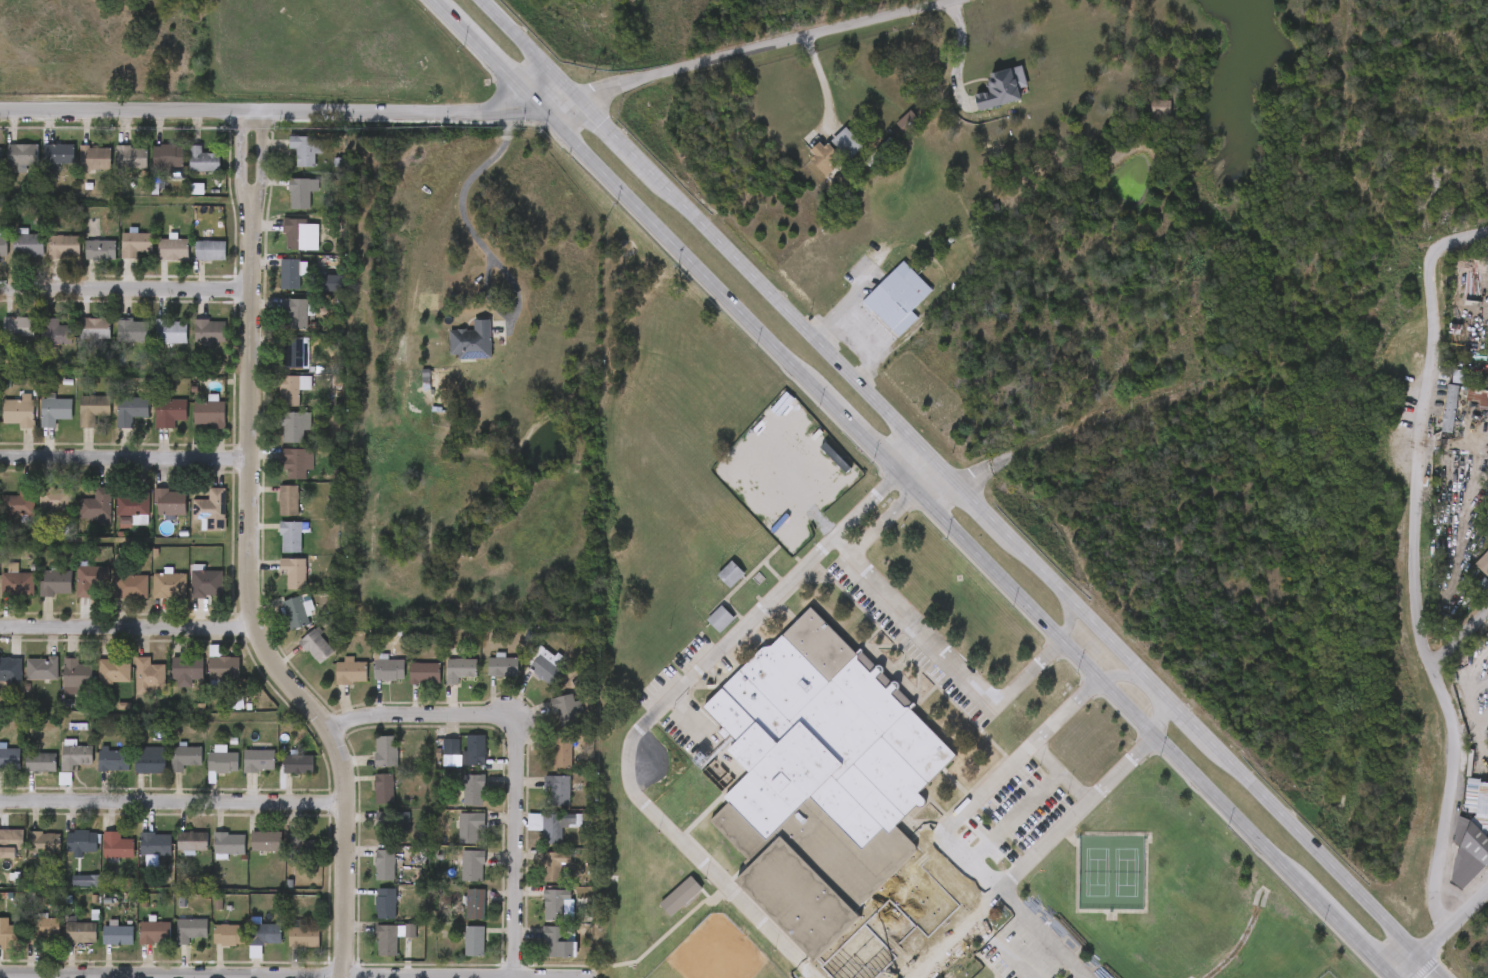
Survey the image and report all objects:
road: (747, 52)
road: (958, 52)
road: (824, 79)
building: (1000, 86)
road: (270, 112)
building: (906, 119)
building: (847, 142)
building: (306, 148)
building: (22, 153)
building: (59, 153)
building: (169, 155)
building: (0, 156)
building: (132, 156)
building: (95, 157)
building: (825, 157)
building: (203, 159)
building: (288, 163)
building: (42, 167)
building: (10, 168)
building: (151, 169)
building: (115, 171)
building: (78, 172)
building: (186, 173)
building: (301, 192)
building: (284, 206)
building: (301, 233)
building: (135, 243)
road: (1458, 243)
building: (3, 244)
building: (28, 244)
road: (484, 245)
building: (64, 246)
building: (101, 248)
building: (174, 248)
building: (283, 248)
building: (211, 250)
building: (118, 258)
building: (47, 260)
building: (84, 263)
building: (157, 263)
building: (193, 264)
building: (291, 273)
road: (122, 286)
building: (273, 287)
building: (314, 296)
building: (896, 297)
road: (850, 302)
building: (296, 313)
building: (278, 326)
building: (18, 327)
building: (95, 329)
building: (132, 331)
building: (172, 331)
building: (210, 331)
building: (55, 332)
building: (472, 338)
building: (8, 340)
building: (78, 341)
road: (879, 342)
building: (115, 344)
building: (193, 344)
building: (154, 345)
building: (38, 346)
building: (296, 353)
building: (455, 355)
building: (279, 366)
building: (1458, 377)
building: (293, 388)
building: (276, 402)
building: (1448, 408)
building: (93, 409)
building: (131, 409)
building: (18, 411)
building: (55, 411)
building: (170, 413)
building: (209, 414)
building: (76, 422)
building: (9, 424)
building: (114, 424)
building: (38, 425)
building: (153, 426)
building: (194, 426)
building: (294, 426)
road: (1068, 431)
building: (279, 441)
road: (120, 460)
building: (294, 461)
building: (280, 476)
road: (962, 489)
road: (915, 490)
building: (55, 499)
building: (289, 499)
building: (170, 502)
building: (19, 503)
building: (134, 504)
building: (96, 506)
building: (211, 509)
building: (272, 513)
building: (8, 514)
building: (38, 514)
building: (79, 520)
building: (116, 524)
building: (194, 524)
building: (291, 536)
building: (274, 550)
road: (240, 559)
building: (1482, 563)
building: (293, 572)
building: (730, 572)
building: (89, 581)
building: (56, 582)
building: (17, 583)
building: (207, 583)
building: (169, 585)
building: (131, 586)
building: (278, 586)
building: (74, 593)
building: (39, 596)
building: (189, 596)
building: (8, 597)
building: (152, 599)
building: (114, 600)
road: (1419, 600)
building: (295, 613)
building: (719, 616)
road: (1068, 621)
building: (279, 626)
road: (125, 628)
road: (923, 632)
road: (1460, 642)
building: (316, 646)
building: (299, 659)
building: (502, 666)
building: (42, 668)
building: (188, 668)
building: (224, 668)
building: (459, 668)
building: (547, 668)
building: (10, 669)
building: (389, 669)
building: (114, 670)
building: (350, 671)
building: (77, 672)
building: (425, 673)
building: (149, 676)
road: (1125, 677)
building: (205, 678)
building: (527, 678)
building: (486, 679)
building: (371, 681)
building: (25, 682)
building: (2, 683)
building: (443, 683)
building: (97, 684)
building: (171, 684)
building: (334, 684)
building: (60, 686)
building: (408, 686)
building: (132, 689)
building: (566, 709)
road: (1065, 709)
road: (652, 714)
road: (1162, 717)
building: (549, 724)
road: (1472, 725)
building: (450, 747)
building: (476, 749)
building: (385, 750)
building: (562, 751)
road: (514, 753)
building: (77, 757)
building: (185, 757)
building: (9, 758)
building: (114, 759)
building: (259, 760)
building: (434, 760)
building: (40, 761)
building: (149, 761)
building: (223, 762)
building: (298, 764)
building: (369, 764)
building: (458, 764)
building: (544, 766)
road: (1121, 766)
building: (59, 768)
road: (1060, 770)
building: (168, 771)
building: (2, 772)
building: (96, 773)
building: (205, 774)
building: (242, 774)
building: (24, 775)
building: (133, 777)
building: (282, 777)
building: (820, 781)
building: (383, 788)
building: (471, 789)
building: (556, 790)
building: (366, 801)
road: (169, 802)
building: (456, 803)
building: (540, 804)
road: (963, 805)
building: (1481, 815)
building: (389, 823)
building: (469, 826)
building: (555, 826)
road: (1001, 830)
building: (376, 834)
building: (517, 835)
building: (453, 840)
building: (81, 841)
building: (192, 841)
building: (266, 841)
building: (44, 842)
building: (11, 843)
building: (229, 843)
building: (155, 844)
building: (117, 846)
building: (303, 848)
building: (175, 854)
building: (249, 854)
building: (28, 855)
building: (65, 856)
building: (138, 857)
building: (212, 857)
building: (101, 859)
road: (1029, 859)
building: (284, 860)
building: (384, 865)
building: (472, 865)
building: (553, 867)
building: (367, 878)
building: (537, 878)
building: (455, 879)
building: (68, 894)
building: (385, 903)
building: (474, 904)
building: (553, 904)
road: (956, 905)
building: (664, 909)
building: (369, 916)
building: (458, 917)
building: (538, 917)
building: (42, 929)
building: (190, 929)
building: (154, 931)
building: (80, 932)
building: (10, 933)
road: (1045, 933)
building: (229, 934)
building: (265, 934)
road: (899, 934)
building: (117, 935)
road: (1445, 935)
building: (304, 937)
building: (386, 940)
building: (473, 941)
building: (557, 942)
building: (27, 943)
building: (174, 943)
building: (64, 945)
building: (138, 945)
building: (248, 946)
building: (101, 947)
building: (211, 948)
road: (941, 949)
road: (999, 949)
building: (287, 950)
building: (375, 951)
building: (457, 954)
building: (540, 956)
road: (295, 973)

